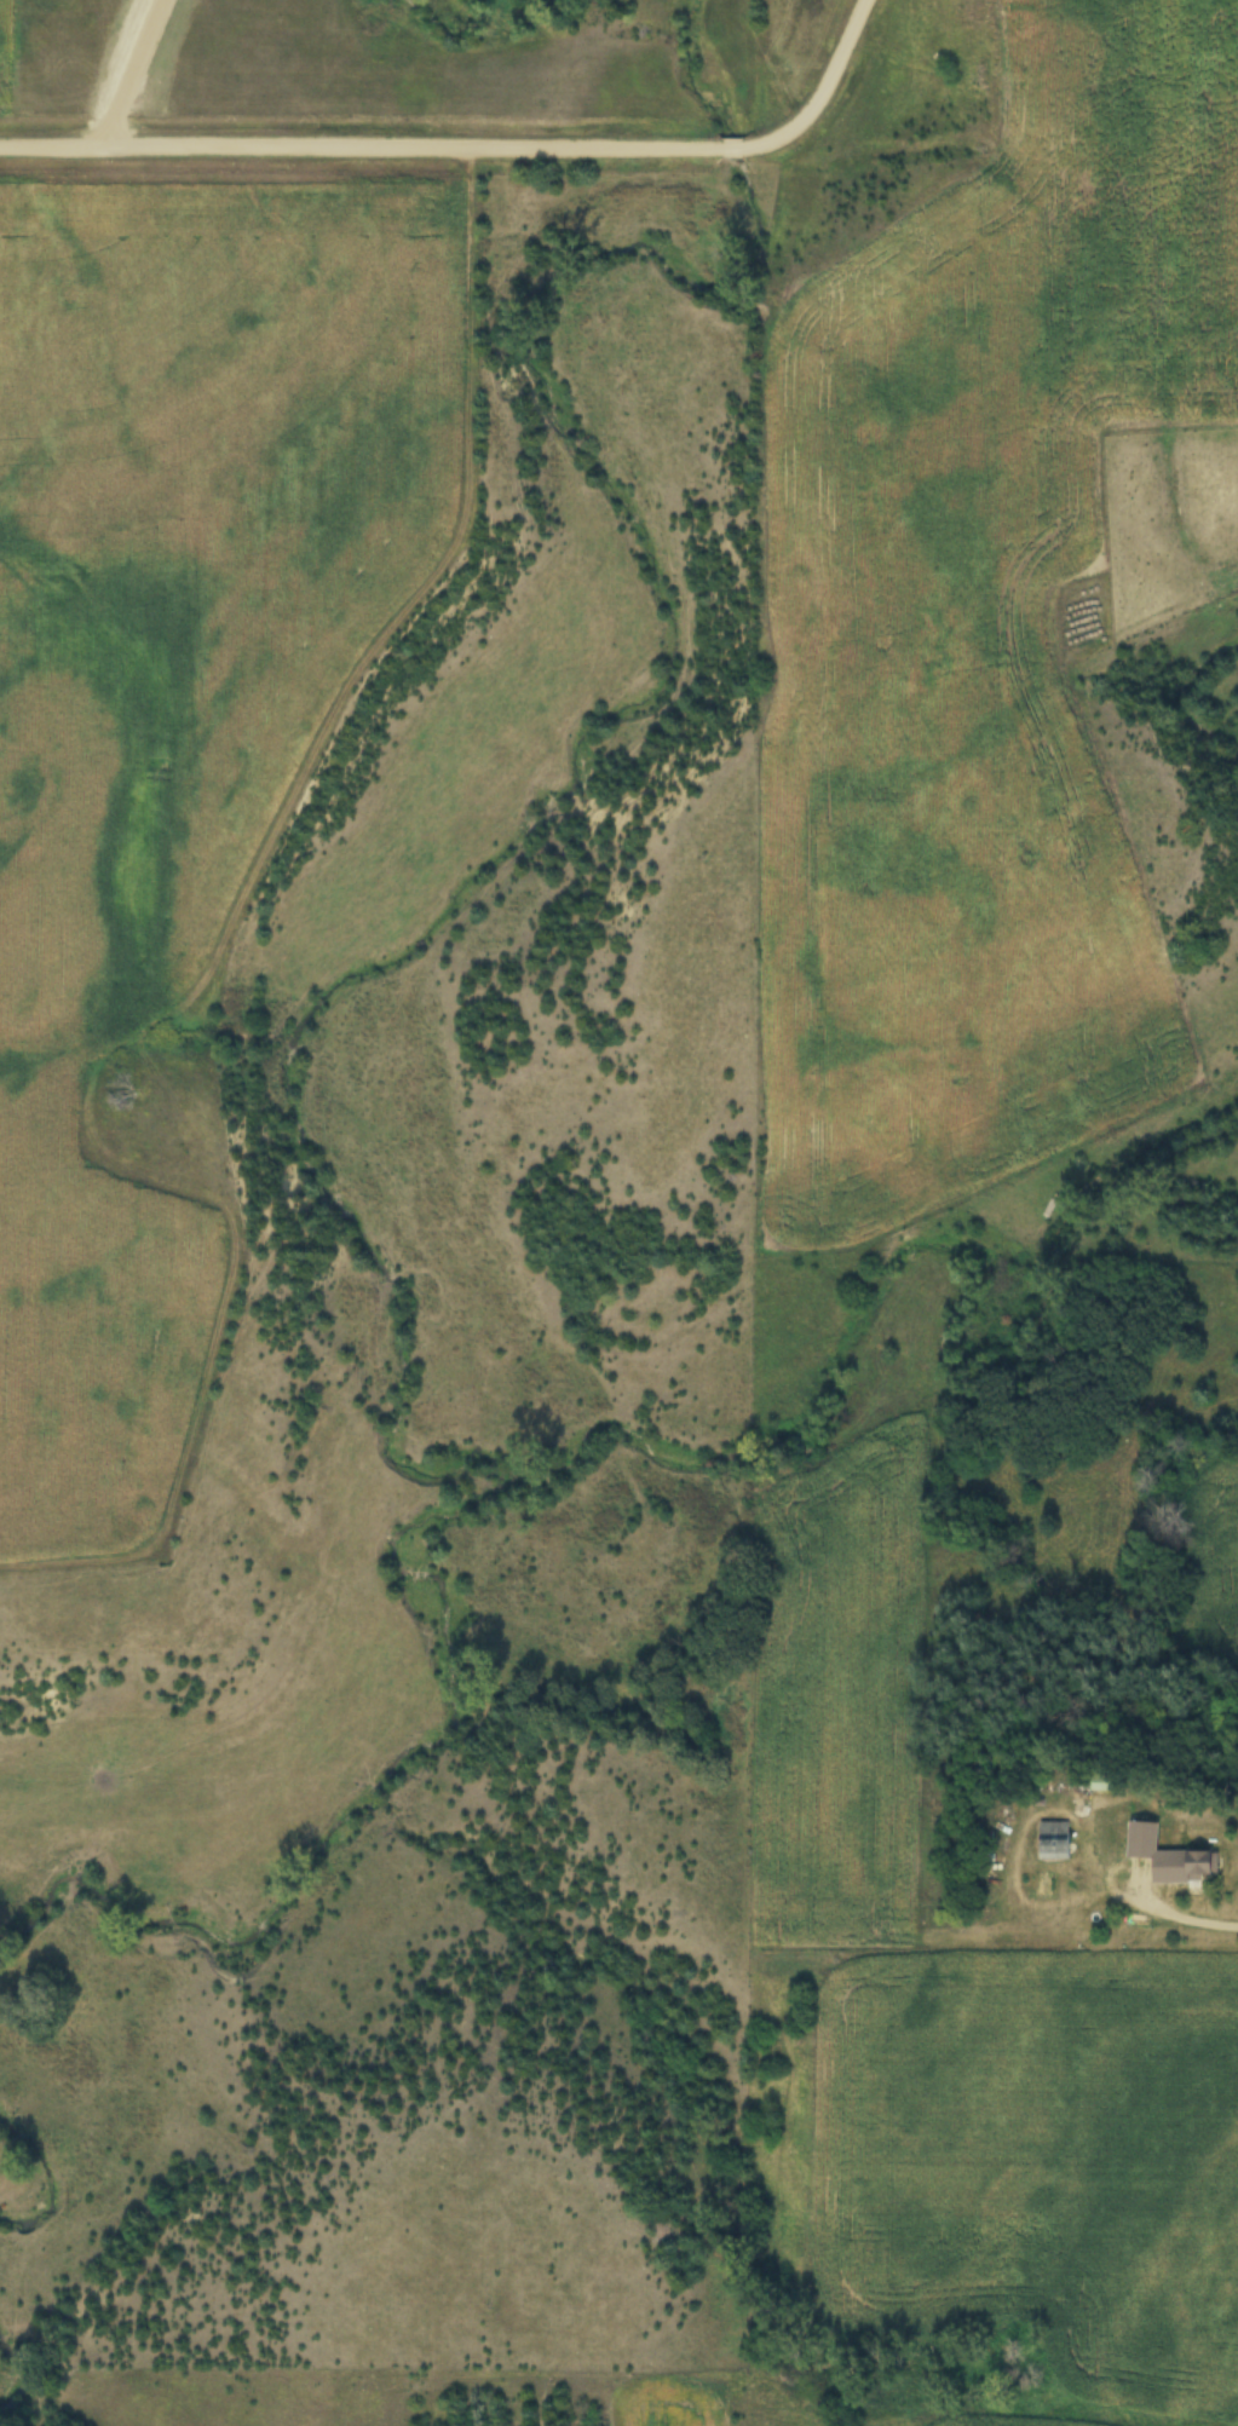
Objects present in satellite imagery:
road: (476, 149)
building: (1053, 1840)
building: (1199, 1865)

